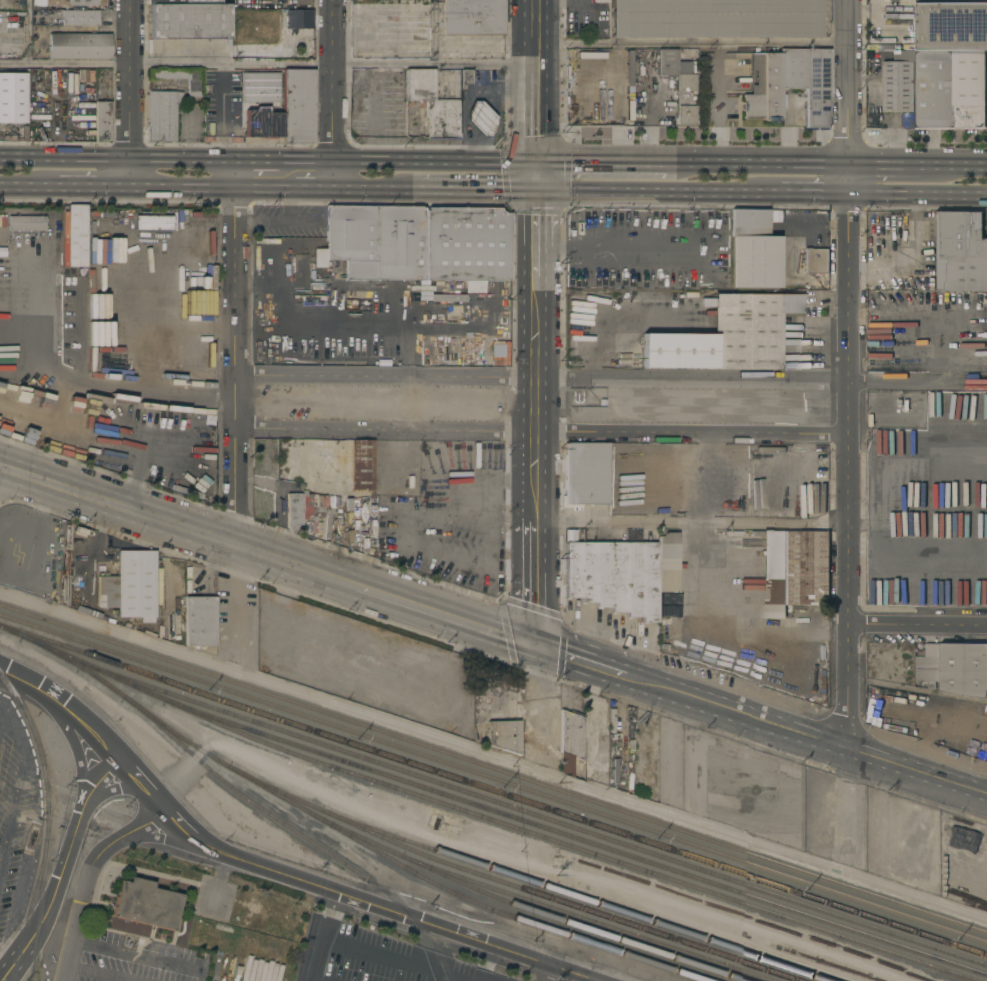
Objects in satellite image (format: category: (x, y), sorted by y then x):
building: (75, 2)
building: (184, 2)
road: (291, 2)
building: (79, 17)
building: (242, 17)
building: (473, 17)
building: (714, 18)
building: (263, 19)
building: (190, 21)
building: (891, 21)
building: (951, 25)
building: (299, 29)
road: (432, 32)
road: (535, 32)
road: (26, 33)
road: (692, 44)
building: (79, 46)
building: (10, 51)
road: (267, 65)
building: (792, 68)
building: (629, 71)
building: (179, 78)
building: (465, 78)
road: (130, 79)
road: (334, 80)
building: (898, 82)
building: (678, 83)
building: (259, 87)
building: (101, 88)
building: (763, 88)
building: (817, 88)
building: (940, 94)
building: (13, 98)
building: (432, 104)
building: (297, 105)
road: (535, 113)
building: (161, 115)
building: (481, 119)
building: (102, 121)
building: (262, 123)
building: (8, 137)
road: (118, 158)
road: (261, 160)
road: (310, 160)
road: (434, 161)
traffic signals: (535, 162)
road: (614, 162)
road: (771, 164)
road: (901, 165)
road: (970, 166)
road: (534, 176)
road: (16, 185)
road: (80, 186)
road: (181, 188)
road: (263, 189)
road: (313, 190)
road: (365, 190)
road: (464, 190)
traffic signals: (534, 191)
road: (643, 192)
road: (801, 194)
road: (918, 196)
road: (289, 206)
road: (262, 222)
road: (304, 222)
building: (26, 223)
building: (146, 225)
building: (200, 225)
building: (77, 236)
road: (534, 237)
building: (417, 243)
building: (753, 251)
building: (960, 252)
road: (910, 255)
building: (816, 260)
road: (150, 290)
building: (454, 312)
road: (192, 321)
building: (727, 335)
building: (463, 350)
road: (850, 376)
road: (598, 380)
road: (80, 386)
road: (537, 390)
road: (237, 417)
road: (91, 427)
road: (543, 431)
building: (362, 465)
building: (585, 474)
building: (678, 506)
road: (879, 507)
building: (293, 511)
road: (173, 524)
road: (694, 524)
building: (667, 547)
building: (172, 568)
building: (787, 569)
road: (538, 571)
building: (614, 577)
building: (135, 585)
building: (106, 591)
building: (661, 607)
road: (443, 613)
building: (199, 621)
road: (918, 626)
building: (173, 628)
road: (733, 638)
traffic signals: (538, 644)
road: (600, 665)
building: (963, 668)
building: (927, 669)
road: (65, 707)
road: (756, 720)
building: (501, 735)
building: (568, 741)
road: (73, 745)
road: (492, 756)
railway: (193, 758)
railway: (493, 768)
road: (918, 769)
road: (918, 775)
railway: (493, 778)
road: (109, 788)
railway: (493, 789)
road: (15, 794)
road: (166, 809)
railway: (532, 814)
railway: (481, 817)
railway: (49, 821)
railway: (348, 836)
railway: (574, 838)
road: (167, 839)
railway: (322, 850)
road: (1, 861)
road: (61, 869)
road: (89, 878)
road: (220, 883)
railway: (508, 884)
railway: (574, 896)
building: (145, 904)
railway: (521, 907)
road: (383, 908)
railway: (32, 910)
railway: (586, 919)
road: (321, 936)
road: (428, 946)
railway: (783, 954)
road: (140, 956)
road: (401, 961)
road: (99, 972)
road: (546, 974)
road: (569, 974)
railway: (952, 975)

